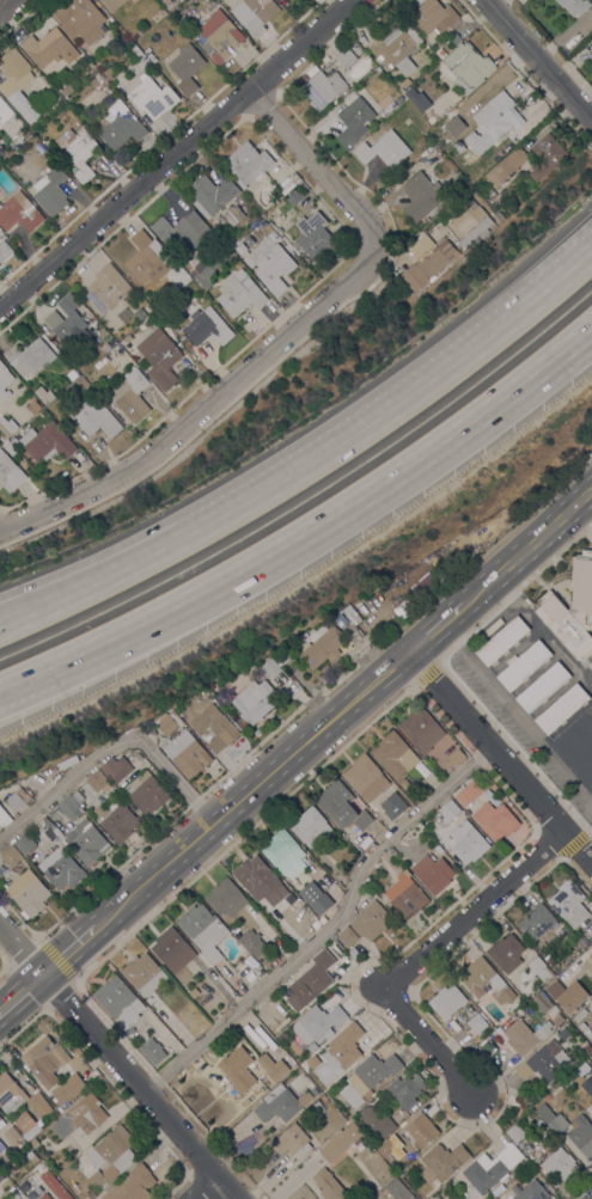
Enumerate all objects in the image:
building: (133, 1)
road: (5, 4)
building: (112, 4)
building: (574, 6)
building: (254, 13)
building: (434, 16)
building: (155, 18)
building: (79, 19)
building: (219, 36)
building: (454, 38)
building: (123, 41)
building: (49, 48)
building: (355, 49)
building: (396, 49)
building: (588, 53)
building: (346, 57)
road: (537, 61)
road: (570, 61)
building: (468, 66)
building: (91, 68)
building: (187, 68)
building: (80, 80)
building: (97, 80)
building: (17, 82)
building: (323, 88)
building: (66, 90)
building: (152, 97)
building: (401, 99)
building: (417, 99)
building: (5, 112)
building: (498, 116)
building: (353, 120)
building: (432, 120)
building: (120, 126)
building: (480, 142)
building: (383, 148)
building: (78, 151)
road: (176, 153)
building: (545, 155)
building: (249, 163)
road: (315, 165)
building: (506, 166)
building: (294, 178)
building: (50, 190)
building: (489, 192)
building: (210, 195)
building: (421, 197)
building: (294, 198)
building: (19, 212)
building: (233, 215)
building: (499, 215)
building: (482, 226)
building: (269, 231)
building: (182, 232)
building: (313, 234)
building: (227, 240)
building: (240, 249)
building: (4, 251)
building: (145, 259)
building: (427, 259)
building: (271, 265)
building: (209, 269)
building: (195, 271)
building: (106, 289)
building: (239, 293)
building: (139, 313)
building: (69, 325)
building: (206, 326)
building: (173, 328)
road: (489, 335)
building: (182, 337)
building: (127, 338)
building: (188, 344)
building: (30, 355)
building: (159, 357)
building: (69, 368)
building: (4, 381)
building: (130, 394)
road: (202, 405)
building: (33, 406)
building: (94, 420)
building: (7, 426)
building: (47, 442)
building: (7, 446)
building: (10, 472)
road: (588, 495)
road: (222, 497)
road: (360, 497)
road: (230, 512)
road: (493, 542)
road: (525, 546)
road: (31, 591)
building: (572, 608)
road: (35, 612)
building: (355, 613)
building: (340, 618)
road: (434, 628)
building: (502, 640)
building: (318, 646)
building: (283, 654)
building: (591, 663)
road: (55, 665)
building: (524, 665)
building: (269, 668)
road: (55, 674)
building: (543, 687)
building: (254, 701)
building: (561, 709)
building: (231, 715)
building: (214, 724)
building: (240, 724)
road: (530, 727)
building: (421, 729)
building: (575, 734)
building: (181, 745)
road: (114, 748)
building: (395, 754)
building: (138, 757)
building: (456, 757)
road: (501, 757)
building: (585, 766)
building: (115, 769)
road: (269, 775)
building: (367, 779)
building: (97, 781)
building: (404, 784)
building: (470, 791)
building: (146, 793)
building: (77, 796)
building: (397, 796)
building: (18, 800)
building: (336, 801)
building: (359, 805)
building: (69, 808)
building: (447, 812)
building: (4, 818)
building: (115, 820)
building: (495, 820)
building: (48, 824)
building: (310, 826)
building: (86, 842)
building: (365, 842)
building: (24, 844)
building: (469, 844)
building: (438, 849)
building: (392, 851)
building: (283, 854)
building: (11, 856)
building: (61, 869)
building: (432, 873)
building: (0, 875)
building: (255, 876)
building: (309, 893)
building: (30, 894)
building: (404, 895)
building: (226, 898)
building: (569, 904)
building: (371, 920)
building: (537, 922)
building: (202, 930)
road: (335, 931)
road: (84, 935)
building: (347, 936)
building: (252, 943)
building: (172, 949)
building: (353, 952)
building: (506, 953)
road: (420, 956)
building: (590, 956)
building: (250, 962)
building: (588, 966)
road: (4, 969)
building: (539, 969)
building: (144, 973)
building: (310, 981)
building: (486, 981)
road: (19, 991)
building: (193, 992)
building: (118, 1001)
building: (541, 1001)
building: (447, 1002)
building: (469, 1009)
building: (557, 1018)
building: (318, 1023)
building: (477, 1023)
building: (561, 1033)
building: (524, 1035)
building: (316, 1045)
building: (586, 1050)
building: (153, 1051)
building: (340, 1052)
building: (590, 1058)
building: (45, 1060)
building: (544, 1062)
road: (117, 1063)
building: (273, 1066)
building: (582, 1069)
building: (238, 1070)
building: (372, 1072)
building: (568, 1078)
building: (68, 1089)
building: (405, 1090)
building: (10, 1094)
building: (547, 1097)
building: (277, 1105)
building: (38, 1106)
building: (590, 1108)
building: (370, 1114)
building: (80, 1117)
building: (551, 1118)
building: (1, 1122)
building: (26, 1125)
building: (380, 1128)
building: (422, 1131)
building: (515, 1133)
building: (11, 1136)
building: (581, 1136)
building: (292, 1140)
building: (340, 1142)
building: (33, 1143)
building: (1, 1146)
building: (385, 1148)
building: (30, 1156)
building: (111, 1156)
building: (441, 1162)
building: (560, 1164)
building: (8, 1168)
building: (488, 1169)
road: (294, 1180)
building: (2, 1185)
building: (54, 1185)
building: (132, 1185)
building: (328, 1185)
building: (23, 1186)
road: (201, 1187)
building: (16, 1191)
building: (398, 1191)
building: (531, 1191)
building: (44, 1197)
building: (437, 1198)

